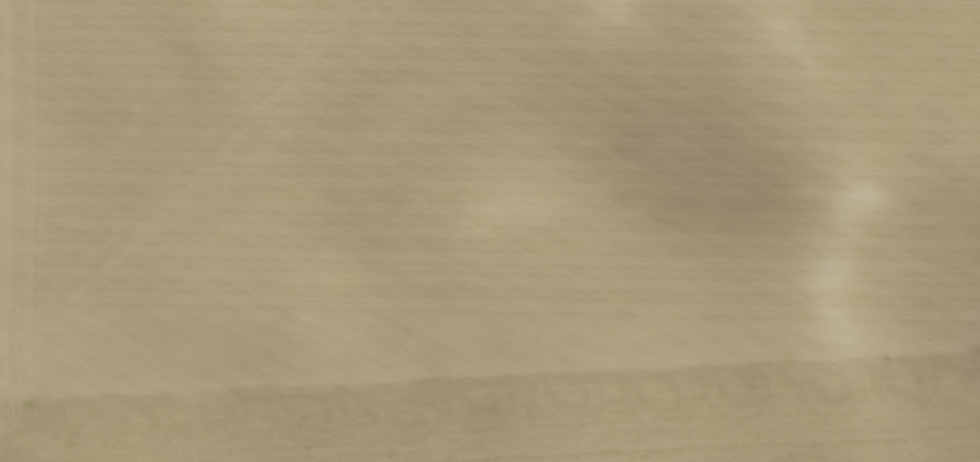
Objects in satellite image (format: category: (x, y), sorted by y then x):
crop: (475, 227)

